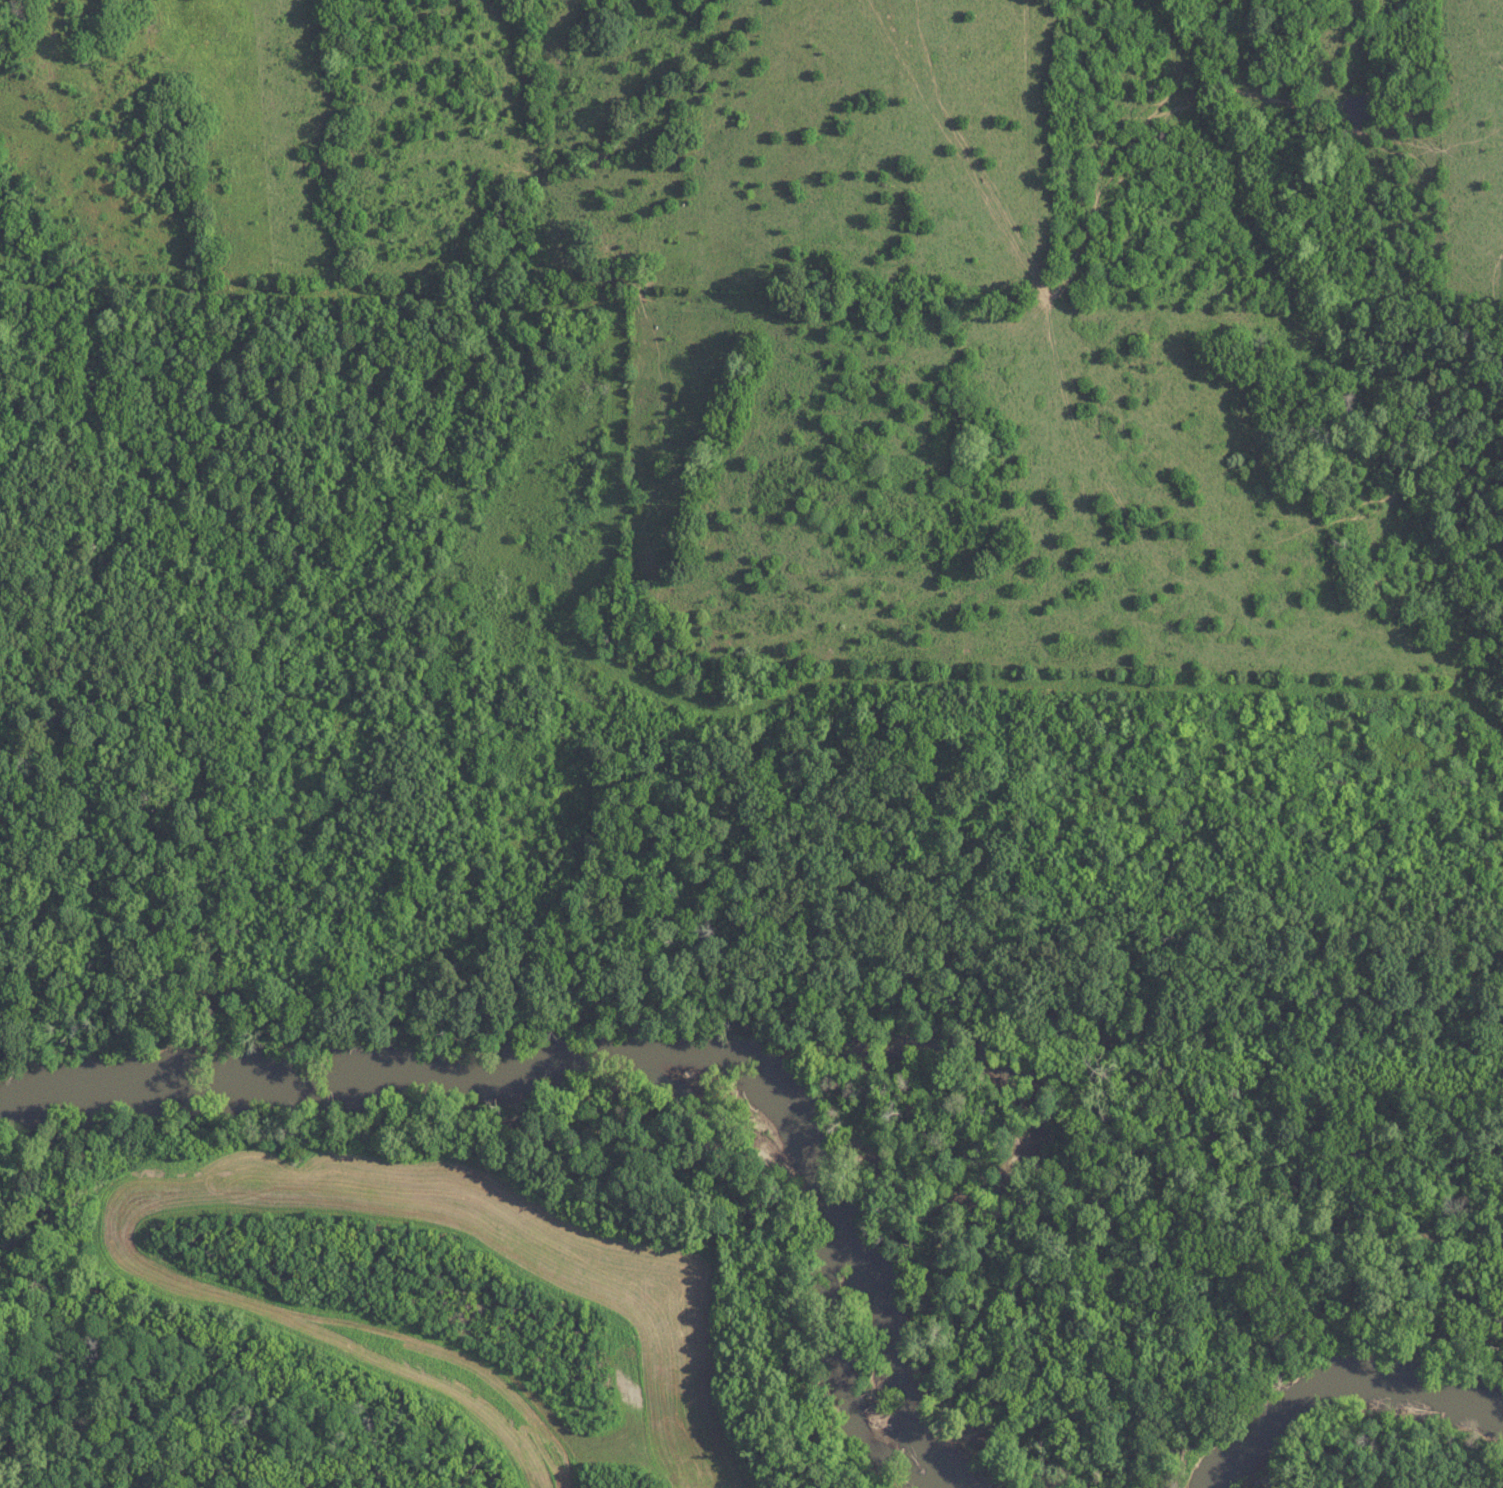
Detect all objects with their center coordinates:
river: (611, 1048)
river: (1345, 1395)

